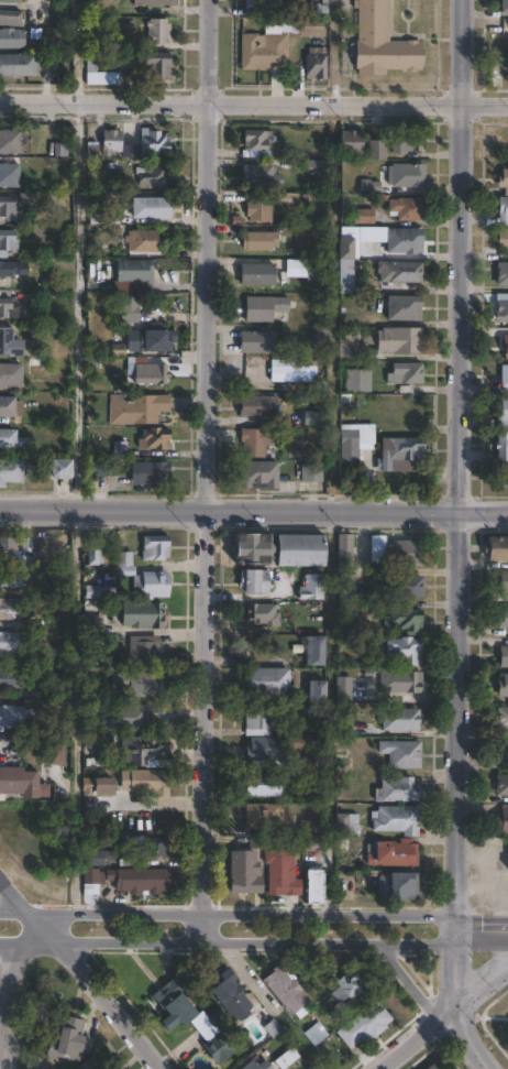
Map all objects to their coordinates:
building: (68, 2)
building: (153, 2)
building: (274, 3)
building: (504, 7)
building: (321, 9)
building: (10, 18)
building: (157, 31)
building: (11, 37)
building: (382, 42)
road: (78, 51)
building: (263, 51)
road: (334, 52)
building: (125, 59)
building: (316, 63)
building: (18, 65)
building: (159, 67)
building: (95, 70)
road: (253, 103)
building: (408, 140)
building: (111, 141)
building: (154, 141)
building: (258, 141)
building: (352, 141)
building: (9, 142)
building: (377, 149)
building: (317, 166)
building: (156, 174)
building: (407, 174)
building: (9, 175)
building: (259, 175)
building: (66, 177)
building: (500, 182)
building: (371, 185)
building: (286, 198)
building: (16, 204)
building: (152, 208)
building: (259, 208)
building: (408, 209)
building: (500, 211)
building: (364, 217)
building: (62, 218)
building: (108, 218)
building: (259, 239)
building: (143, 240)
building: (499, 240)
building: (405, 241)
building: (7, 243)
building: (65, 247)
building: (346, 248)
road: (461, 255)
building: (9, 269)
building: (136, 272)
building: (314, 272)
building: (400, 272)
building: (257, 274)
building: (499, 274)
building: (346, 276)
road: (76, 305)
building: (4, 306)
building: (405, 307)
building: (264, 308)
building: (130, 309)
building: (499, 313)
building: (321, 335)
building: (152, 340)
building: (399, 340)
building: (257, 342)
building: (9, 343)
building: (499, 347)
building: (349, 349)
building: (38, 366)
building: (92, 367)
building: (147, 371)
building: (406, 373)
building: (11, 374)
building: (503, 374)
building: (291, 375)
building: (357, 381)
building: (258, 406)
building: (10, 407)
building: (144, 408)
building: (501, 414)
building: (311, 418)
building: (9, 439)
building: (154, 439)
building: (354, 439)
building: (254, 441)
building: (499, 447)
building: (120, 450)
building: (400, 451)
building: (62, 469)
building: (99, 470)
building: (12, 471)
road: (205, 471)
building: (150, 472)
building: (310, 473)
building: (258, 476)
building: (500, 477)
road: (229, 512)
road: (484, 512)
building: (155, 548)
building: (8, 549)
building: (26, 549)
building: (253, 549)
building: (496, 549)
building: (346, 550)
building: (98, 552)
building: (301, 552)
building: (395, 552)
building: (11, 579)
building: (143, 579)
building: (255, 581)
building: (503, 582)
building: (404, 587)
building: (312, 588)
building: (99, 592)
building: (9, 610)
building: (263, 614)
building: (143, 615)
building: (503, 620)
building: (406, 622)
building: (93, 623)
building: (9, 643)
building: (406, 651)
building: (143, 652)
building: (272, 653)
building: (316, 653)
building: (503, 657)
building: (10, 679)
building: (140, 679)
building: (401, 683)
building: (267, 684)
building: (503, 685)
building: (96, 689)
building: (349, 689)
building: (62, 691)
building: (317, 692)
building: (13, 717)
building: (126, 717)
building: (501, 717)
building: (399, 720)
building: (262, 722)
building: (344, 729)
building: (267, 751)
building: (504, 751)
building: (144, 752)
building: (401, 754)
building: (55, 755)
building: (313, 761)
road: (456, 762)
building: (19, 781)
building: (145, 783)
building: (500, 783)
building: (263, 786)
building: (104, 787)
building: (397, 790)
building: (263, 817)
building: (397, 820)
building: (501, 820)
building: (347, 825)
building: (311, 826)
building: (114, 841)
building: (154, 846)
building: (313, 846)
building: (384, 854)
building: (99, 857)
building: (507, 857)
building: (281, 873)
building: (244, 874)
building: (92, 880)
building: (142, 880)
building: (399, 887)
building: (314, 888)
road: (11, 912)
road: (240, 915)
road: (481, 930)
road: (29, 941)
road: (258, 943)
road: (85, 975)
road: (409, 986)
road: (479, 988)
building: (288, 990)
building: (231, 994)
building: (347, 994)
road: (7, 1005)
building: (188, 1015)
building: (365, 1024)
park: (494, 1025)
building: (316, 1033)
building: (68, 1039)
road: (416, 1040)
road: (464, 1043)
building: (286, 1058)
building: (90, 1063)
building: (258, 1065)
building: (432, 1066)

